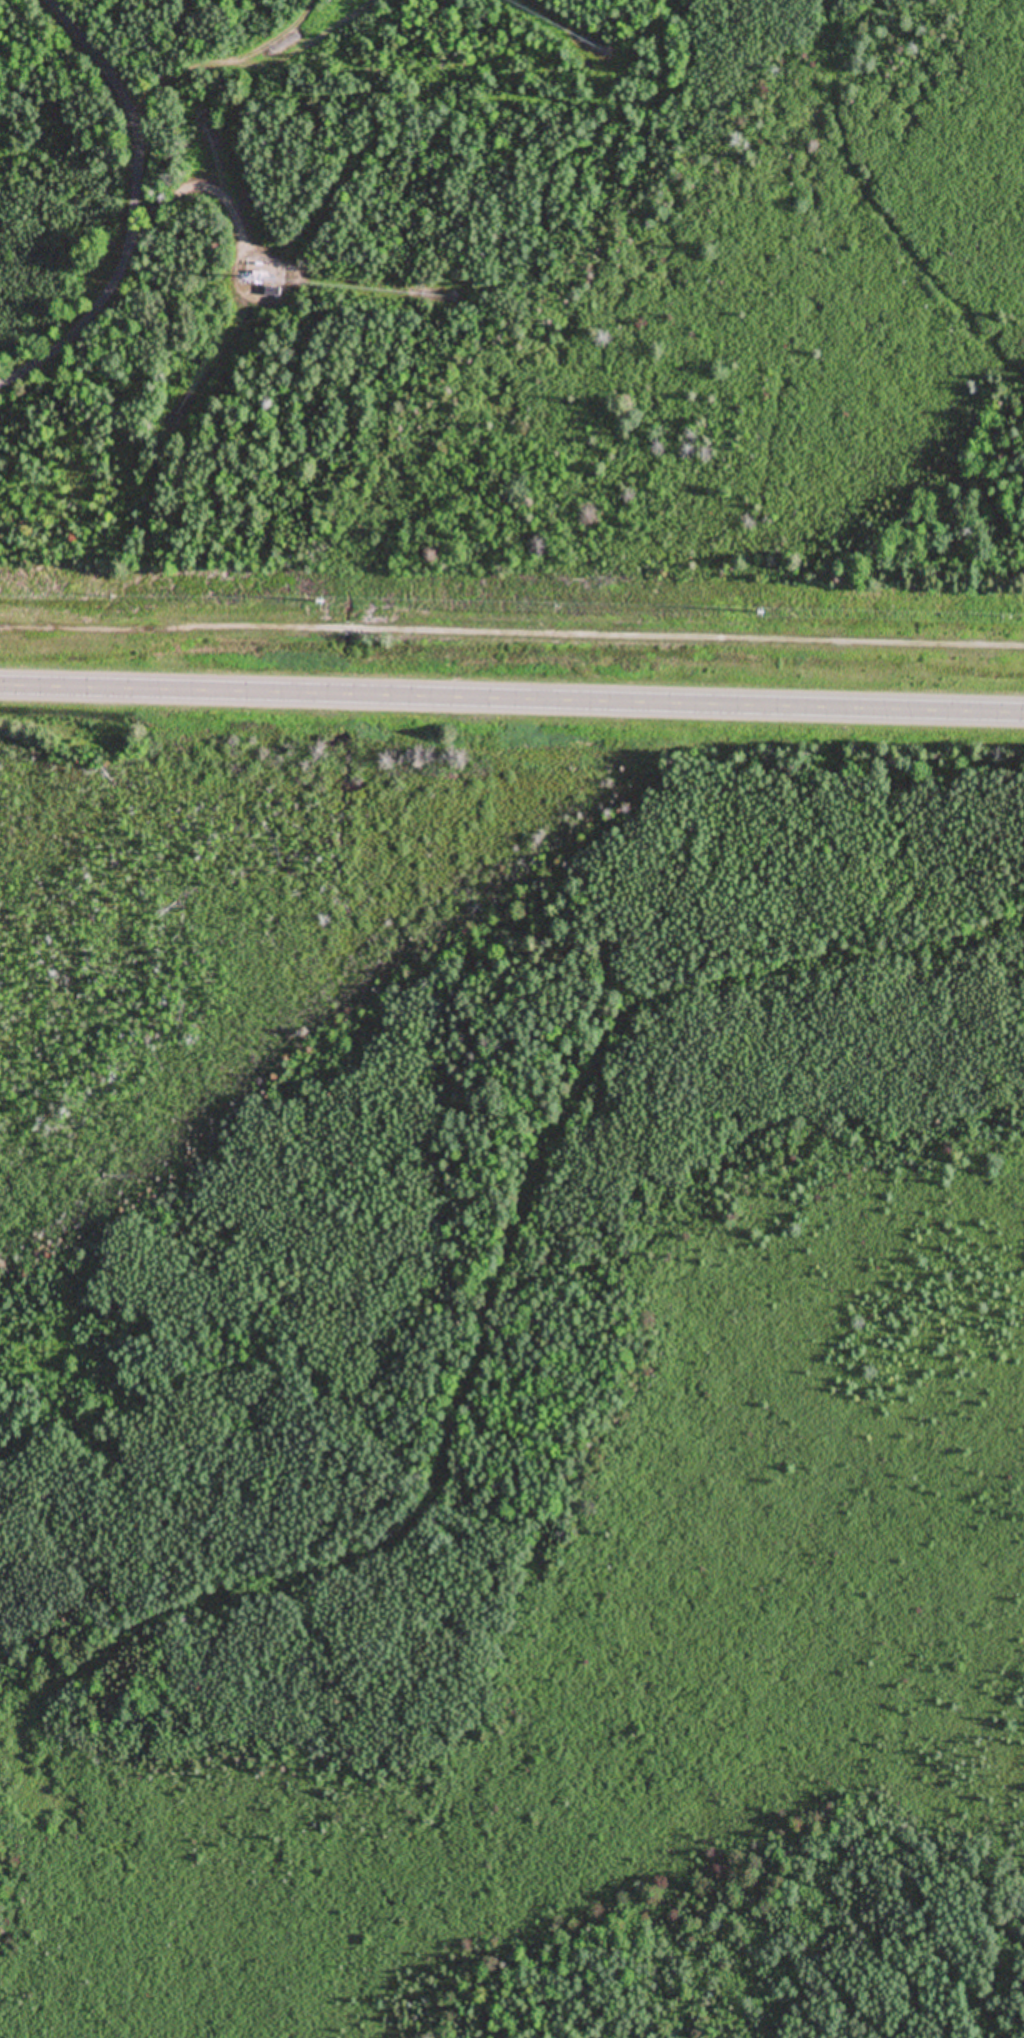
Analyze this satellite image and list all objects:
road: (512, 699)

